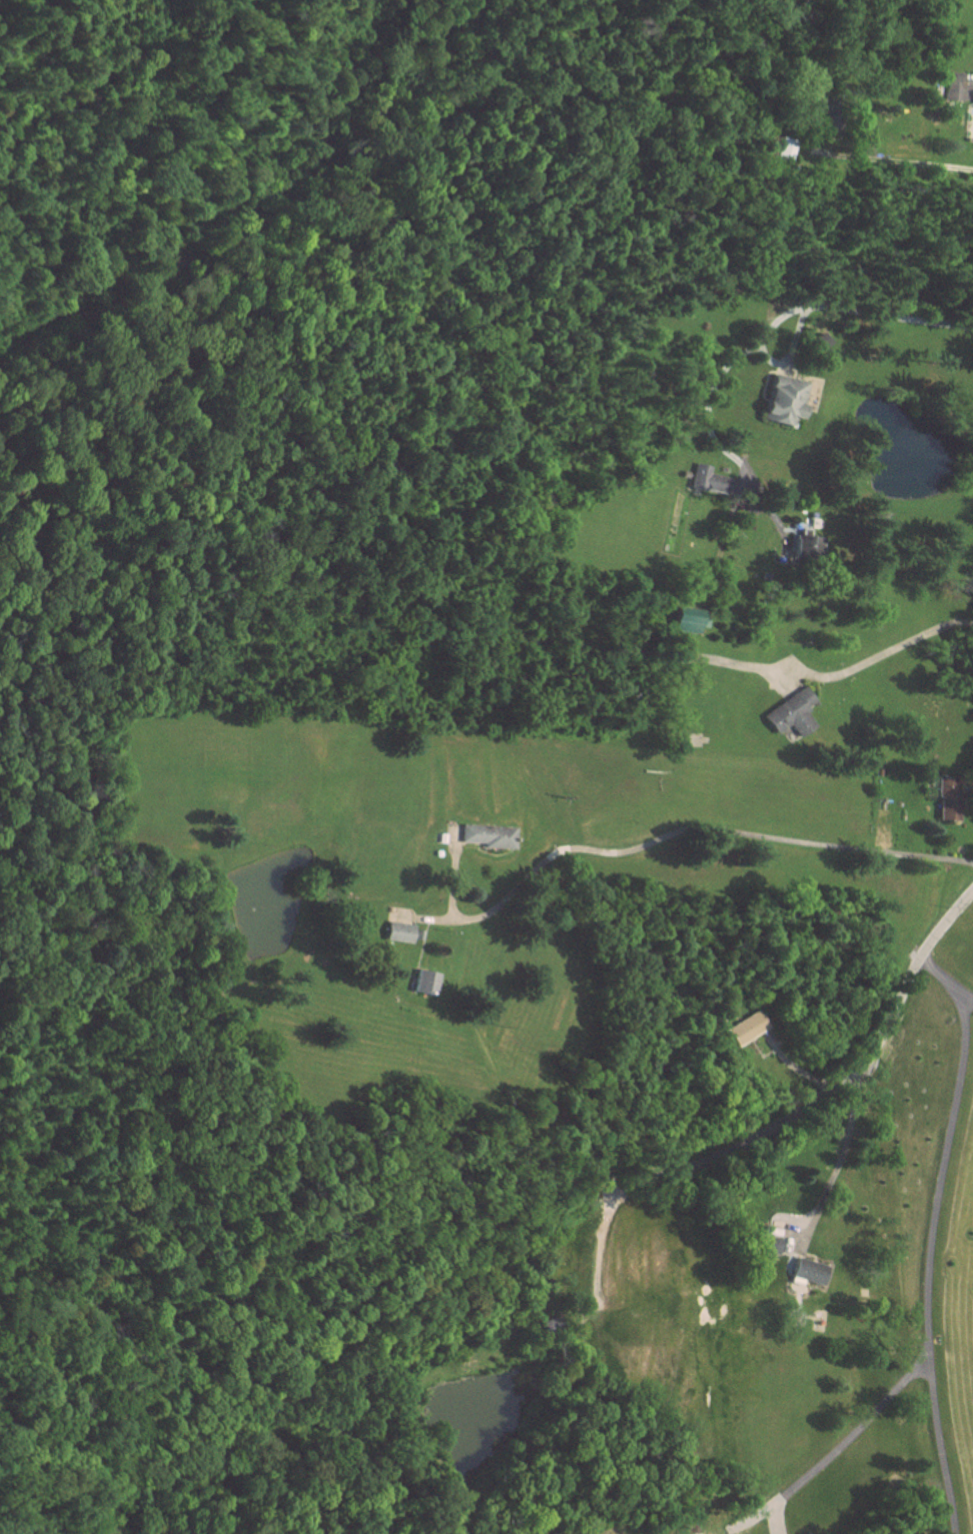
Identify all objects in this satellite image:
building: (954, 86)
road: (894, 178)
road: (780, 312)
building: (787, 399)
building: (709, 479)
building: (802, 544)
road: (882, 652)
building: (792, 713)
building: (949, 800)
road: (699, 824)
building: (488, 834)
building: (426, 980)
road: (967, 1000)
building: (746, 1028)
road: (837, 1085)
road: (832, 1171)
road: (931, 1236)
road: (602, 1244)
building: (811, 1270)
road: (853, 1430)

